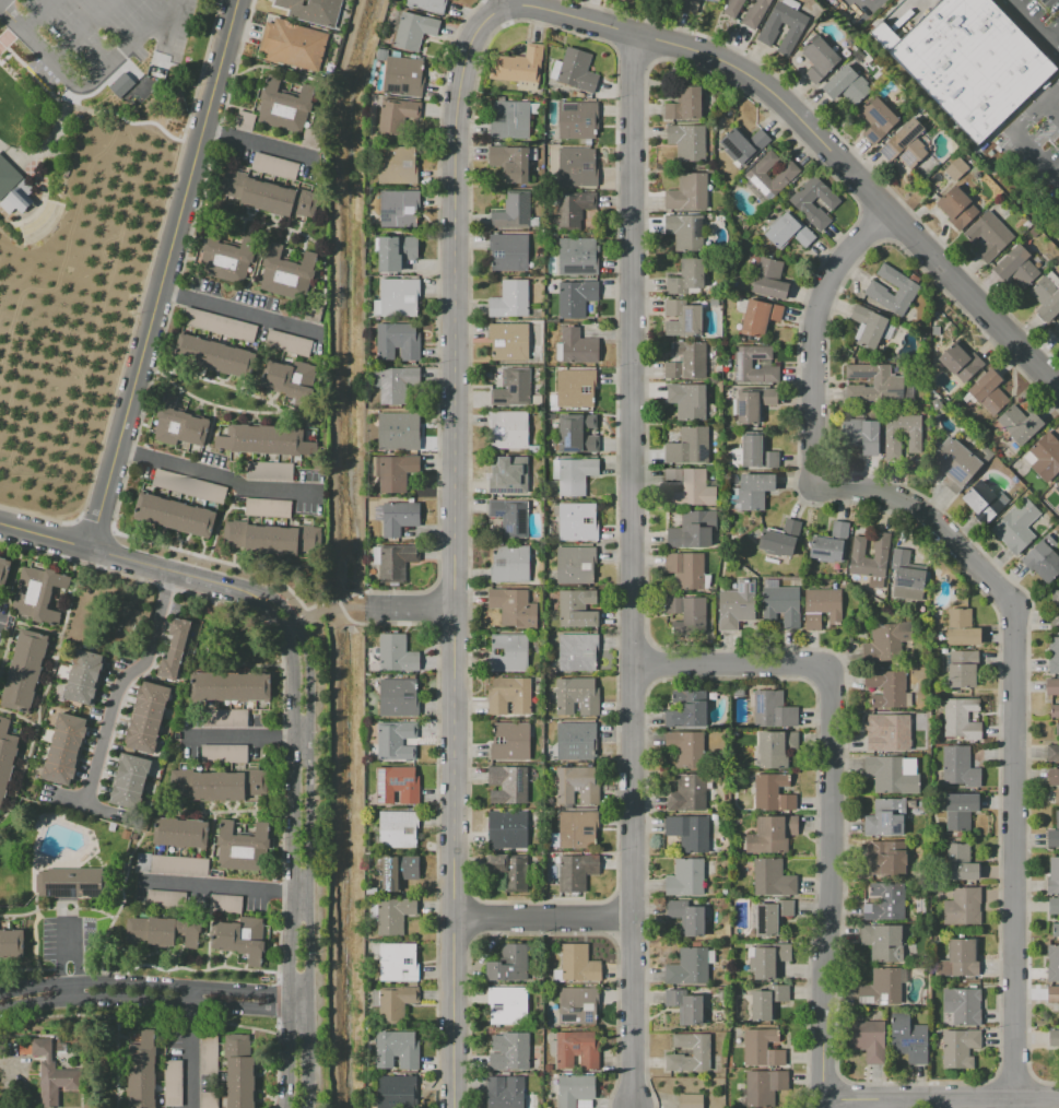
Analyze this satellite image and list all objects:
building: (716, 0)
road: (504, 1)
building: (428, 4)
building: (691, 5)
road: (859, 5)
road: (917, 5)
building: (733, 8)
building: (313, 11)
building: (755, 13)
road: (36, 14)
parking lot: (1036, 23)
road: (1031, 28)
road: (81, 30)
building: (413, 31)
building: (768, 33)
road: (9, 34)
road: (1051, 34)
building: (293, 45)
parking lot: (99, 47)
road: (127, 51)
building: (820, 59)
building: (967, 62)
building: (519, 68)
building: (575, 70)
building: (402, 76)
building: (120, 84)
building: (847, 85)
road: (178, 95)
road: (102, 98)
building: (684, 104)
building: (284, 105)
building: (533, 108)
road: (1051, 108)
building: (397, 115)
building: (245, 119)
building: (509, 119)
building: (576, 119)
building: (876, 119)
road: (1015, 133)
building: (313, 139)
building: (687, 141)
road: (252, 142)
road: (813, 142)
road: (50, 143)
building: (742, 144)
building: (905, 144)
parking lot: (1035, 144)
building: (532, 154)
building: (510, 163)
building: (274, 165)
building: (397, 165)
building: (576, 168)
building: (955, 168)
building: (756, 175)
building: (13, 189)
building: (689, 192)
building: (268, 195)
building: (953, 202)
building: (803, 204)
building: (398, 208)
building: (573, 209)
building: (514, 211)
building: (534, 222)
building: (685, 232)
building: (789, 232)
building: (988, 236)
building: (508, 251)
building: (393, 252)
building: (226, 257)
building: (577, 257)
building: (1015, 267)
building: (286, 272)
road: (160, 273)
building: (687, 276)
building: (769, 279)
building: (875, 290)
building: (1047, 296)
building: (397, 297)
building: (575, 297)
building: (509, 299)
building: (534, 308)
road: (238, 311)
building: (758, 317)
building: (682, 318)
building: (220, 325)
building: (868, 326)
building: (1057, 328)
building: (397, 341)
building: (508, 341)
building: (287, 343)
building: (575, 346)
building: (213, 355)
building: (685, 361)
building: (742, 362)
building: (960, 362)
building: (289, 379)
building: (873, 382)
building: (397, 384)
building: (513, 388)
building: (573, 389)
building: (988, 391)
building: (687, 401)
building: (754, 402)
building: (178, 424)
building: (1020, 424)
building: (508, 429)
building: (396, 432)
building: (577, 434)
building: (861, 435)
building: (263, 440)
building: (892, 443)
building: (687, 446)
building: (531, 449)
building: (756, 453)
building: (1044, 457)
building: (956, 465)
building: (270, 471)
building: (393, 471)
road: (214, 473)
building: (508, 474)
building: (573, 475)
road: (633, 475)
building: (189, 486)
building: (690, 486)
building: (1057, 488)
building: (755, 490)
building: (977, 496)
building: (532, 507)
building: (268, 508)
building: (555, 510)
building: (174, 515)
building: (398, 517)
building: (510, 517)
building: (577, 521)
building: (1016, 526)
building: (692, 530)
road: (44, 537)
building: (269, 537)
building: (780, 537)
building: (829, 543)
road: (454, 547)
building: (881, 554)
building: (395, 562)
building: (1043, 562)
building: (509, 564)
building: (1, 565)
building: (575, 565)
road: (163, 569)
building: (685, 569)
building: (906, 576)
road: (999, 588)
road: (358, 592)
building: (37, 593)
road: (273, 596)
building: (781, 602)
building: (737, 604)
road: (412, 605)
building: (822, 606)
road: (263, 608)
building: (514, 608)
building: (577, 608)
road: (307, 609)
building: (1055, 609)
building: (686, 614)
road: (356, 623)
building: (961, 627)
building: (886, 641)
building: (536, 648)
building: (176, 649)
building: (577, 651)
building: (396, 652)
building: (509, 652)
building: (1054, 655)
road: (729, 665)
building: (962, 669)
building: (24, 671)
building: (82, 676)
road: (121, 679)
building: (230, 686)
building: (1052, 686)
building: (886, 688)
building: (738, 691)
building: (509, 695)
building: (577, 696)
building: (398, 697)
building: (686, 710)
building: (773, 710)
building: (1056, 710)
building: (146, 716)
building: (224, 718)
building: (961, 718)
building: (1057, 729)
building: (887, 733)
road: (238, 735)
building: (397, 741)
building: (509, 741)
building: (576, 741)
building: (64, 749)
building: (686, 749)
building: (776, 749)
building: (1052, 753)
building: (5, 754)
building: (224, 754)
building: (957, 766)
building: (892, 774)
building: (1054, 779)
building: (128, 780)
building: (216, 783)
building: (508, 783)
building: (397, 785)
building: (577, 785)
building: (773, 792)
building: (687, 793)
building: (960, 810)
building: (714, 816)
building: (885, 817)
building: (398, 828)
building: (507, 830)
building: (575, 830)
building: (179, 832)
building: (689, 832)
building: (1054, 834)
building: (772, 835)
building: (243, 848)
building: (887, 858)
building: (960, 862)
road: (309, 863)
building: (170, 864)
road: (289, 868)
building: (510, 870)
building: (398, 871)
building: (576, 871)
building: (1052, 876)
building: (685, 877)
building: (772, 877)
building: (69, 882)
road: (215, 886)
road: (831, 888)
building: (723, 892)
building: (165, 899)
building: (885, 901)
building: (226, 904)
building: (1054, 906)
building: (963, 907)
building: (393, 915)
road: (542, 916)
building: (686, 917)
building: (772, 917)
building: (1056, 929)
building: (162, 931)
building: (240, 938)
building: (883, 942)
building: (11, 943)
road: (62, 952)
building: (768, 959)
building: (960, 959)
building: (398, 962)
building: (509, 963)
building: (1052, 963)
building: (576, 964)
building: (690, 967)
road: (34, 979)
road: (189, 982)
building: (881, 988)
building: (1052, 993)
road: (35, 999)
road: (191, 1000)
building: (767, 1001)
building: (391, 1002)
building: (577, 1004)
building: (508, 1005)
building: (684, 1005)
building: (963, 1006)
road: (633, 1012)
building: (908, 1038)
building: (1054, 1038)
building: (868, 1039)
building: (958, 1047)
building: (578, 1048)
building: (762, 1048)
building: (396, 1049)
building: (701, 1050)
building: (209, 1051)
building: (510, 1051)
road: (189, 1053)
building: (549, 1068)
building: (238, 1071)
building: (142, 1072)
building: (52, 1075)
building: (173, 1083)
building: (765, 1086)
building: (573, 1088)
building: (395, 1091)
building: (507, 1093)
road: (940, 1098)
building: (209, 1099)
building: (690, 1100)

